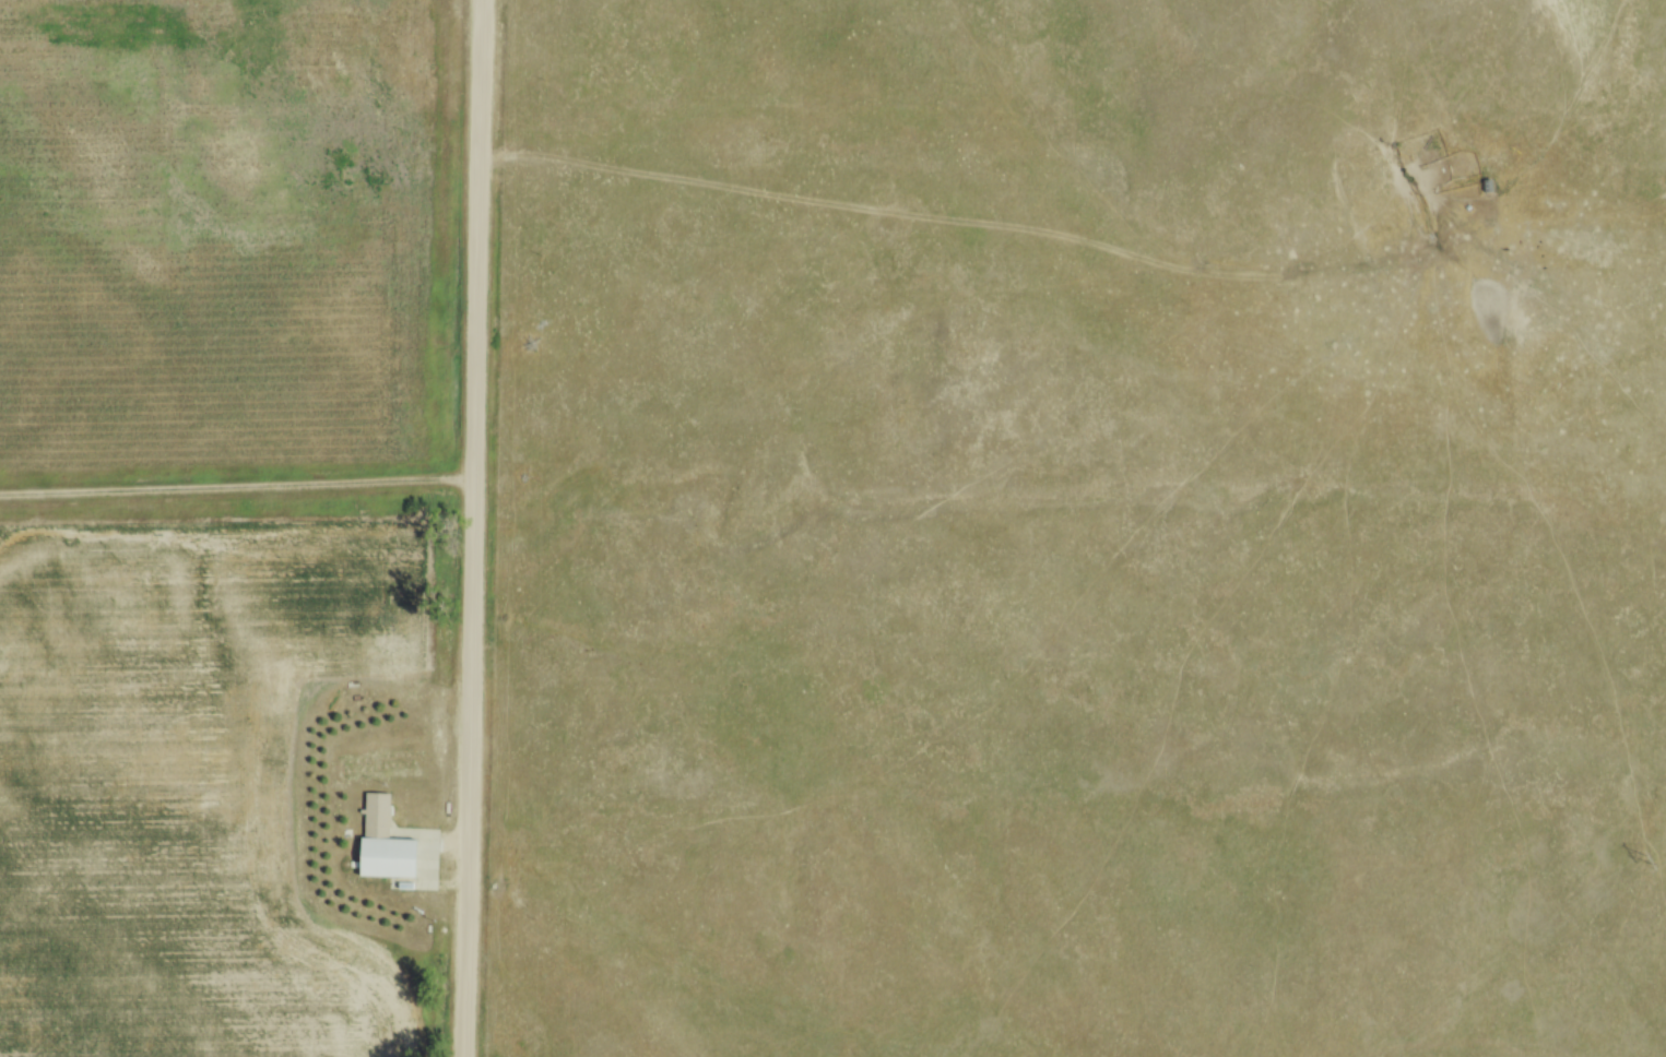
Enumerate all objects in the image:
road: (236, 490)
road: (473, 527)
building: (389, 845)
power tower: (1650, 863)

